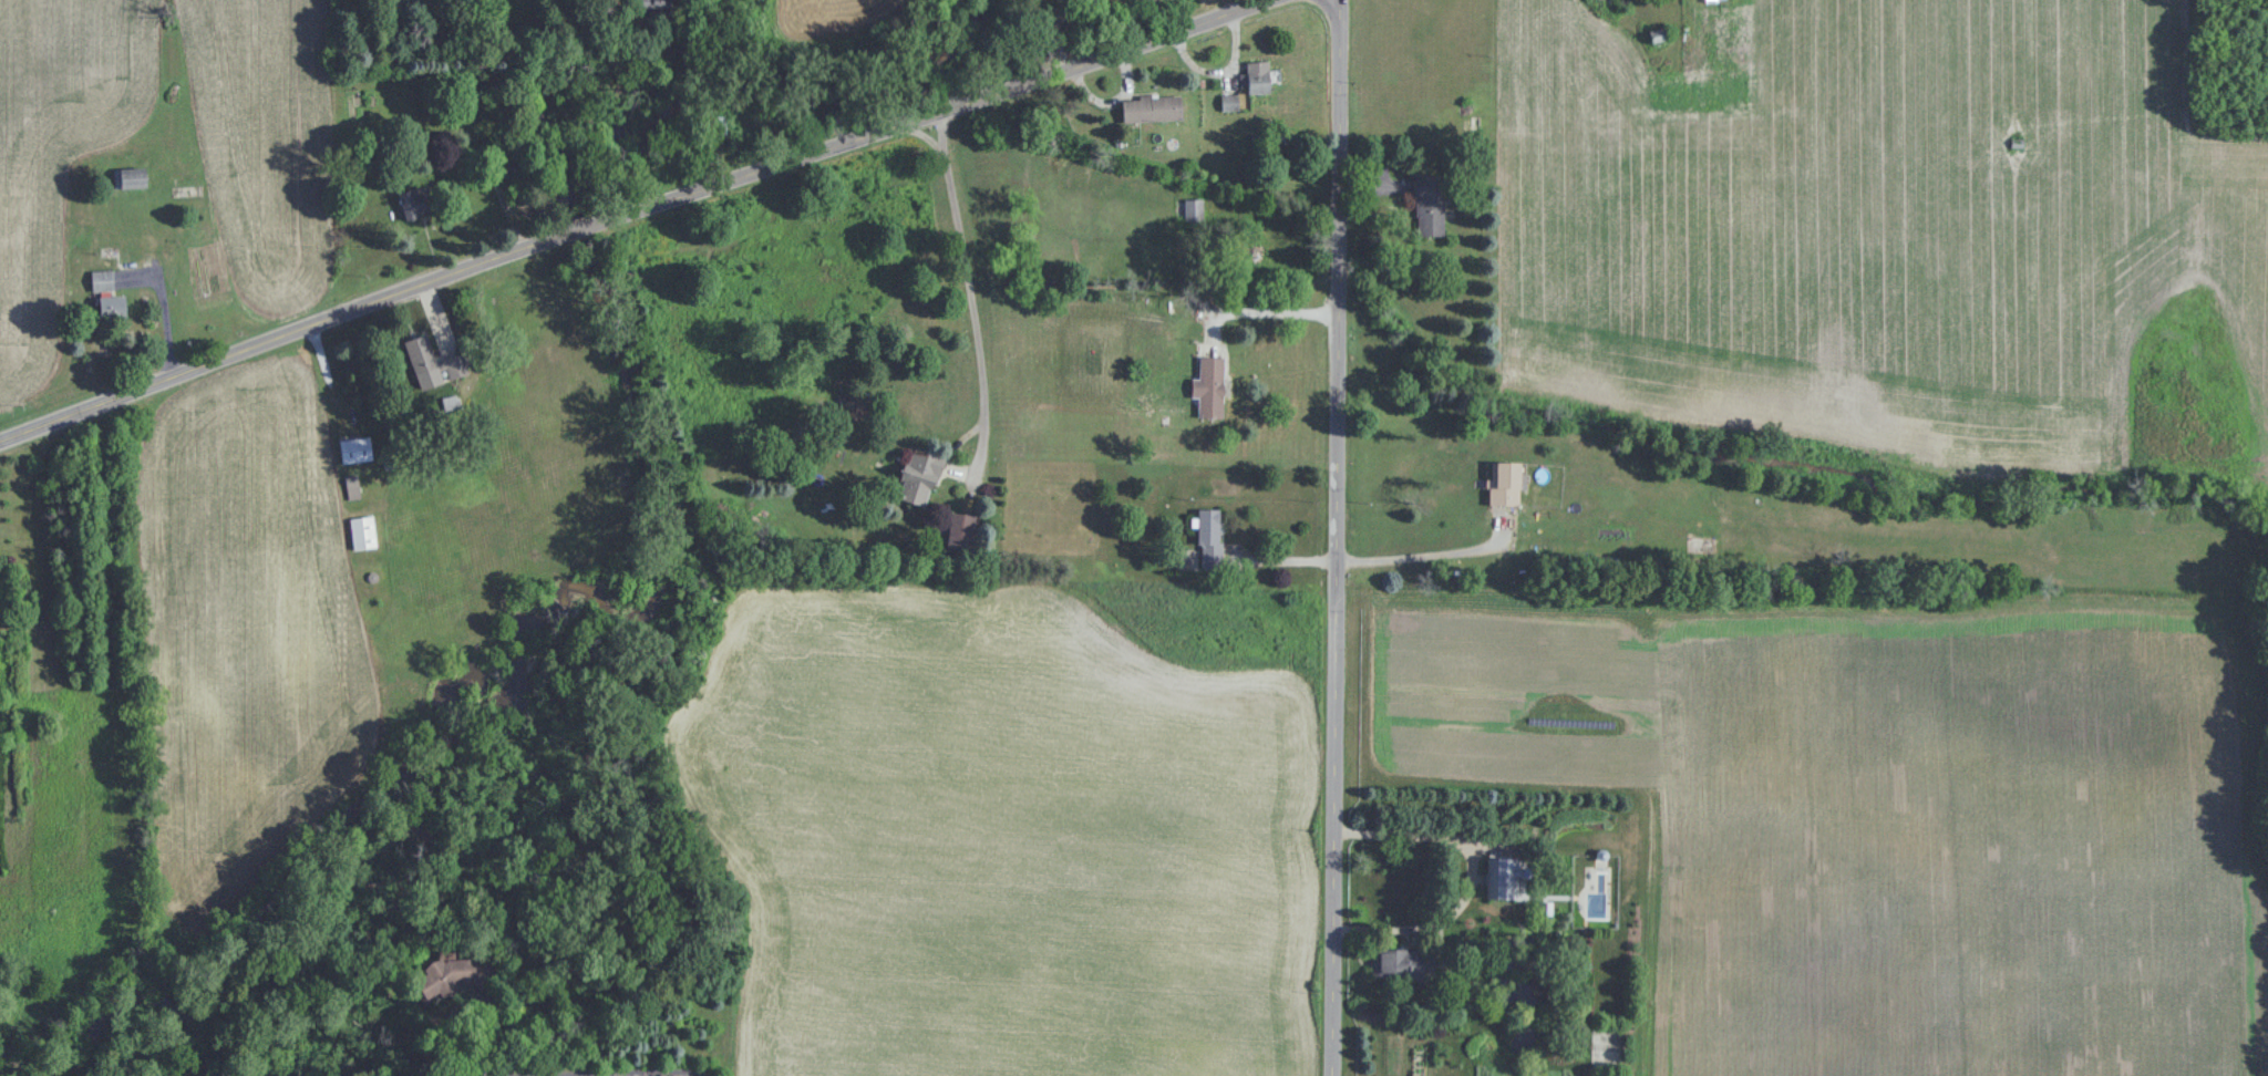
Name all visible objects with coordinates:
building: (659, 2)
building: (1612, 2)
building: (1258, 77)
building: (1152, 108)
building: (131, 178)
building: (413, 204)
building: (1430, 204)
building: (1188, 210)
road: (640, 216)
building: (106, 293)
road: (976, 304)
road: (1267, 315)
building: (421, 354)
building: (455, 365)
building: (1209, 386)
building: (355, 449)
building: (919, 476)
building: (1506, 483)
building: (362, 531)
building: (960, 532)
building: (1210, 537)
road: (1336, 537)
building: (1700, 545)
road: (1427, 556)
road: (1463, 876)
building: (1503, 879)
building: (1396, 963)
building: (446, 976)
road: (478, 1006)
road: (633, 1073)

